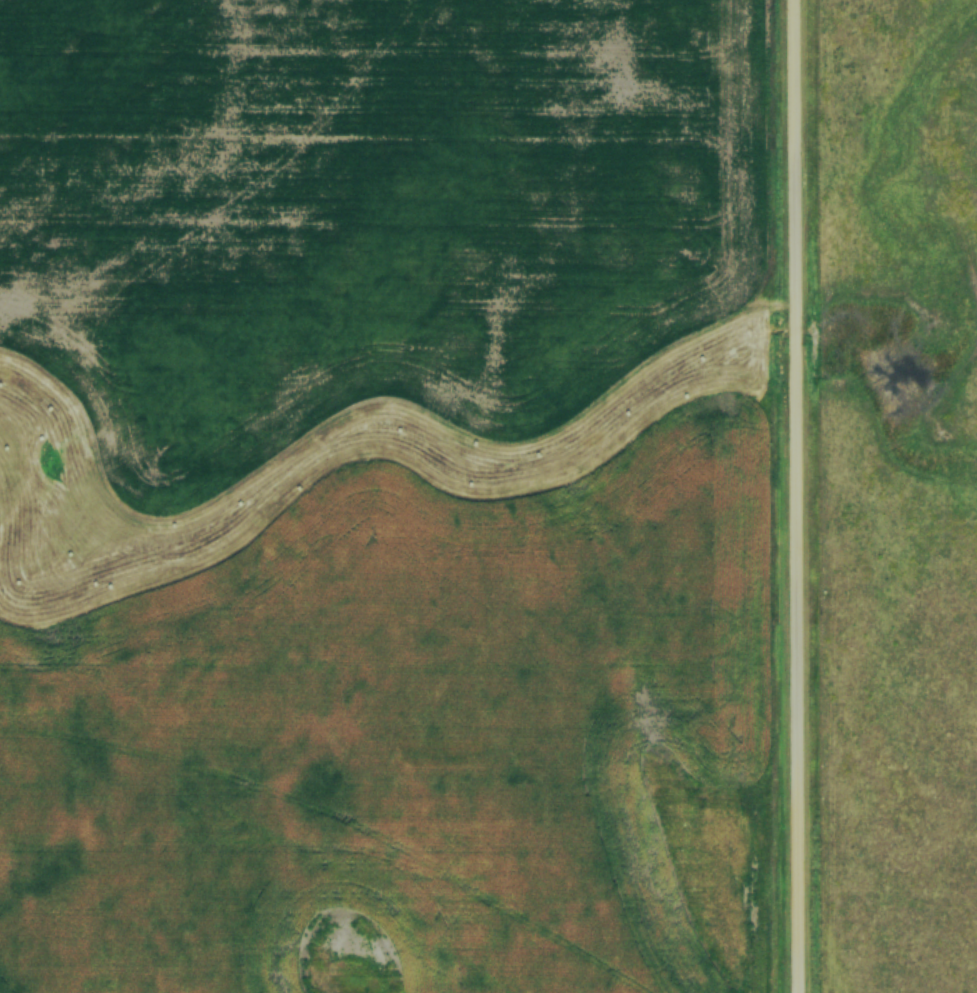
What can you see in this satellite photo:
road: (798, 496)

